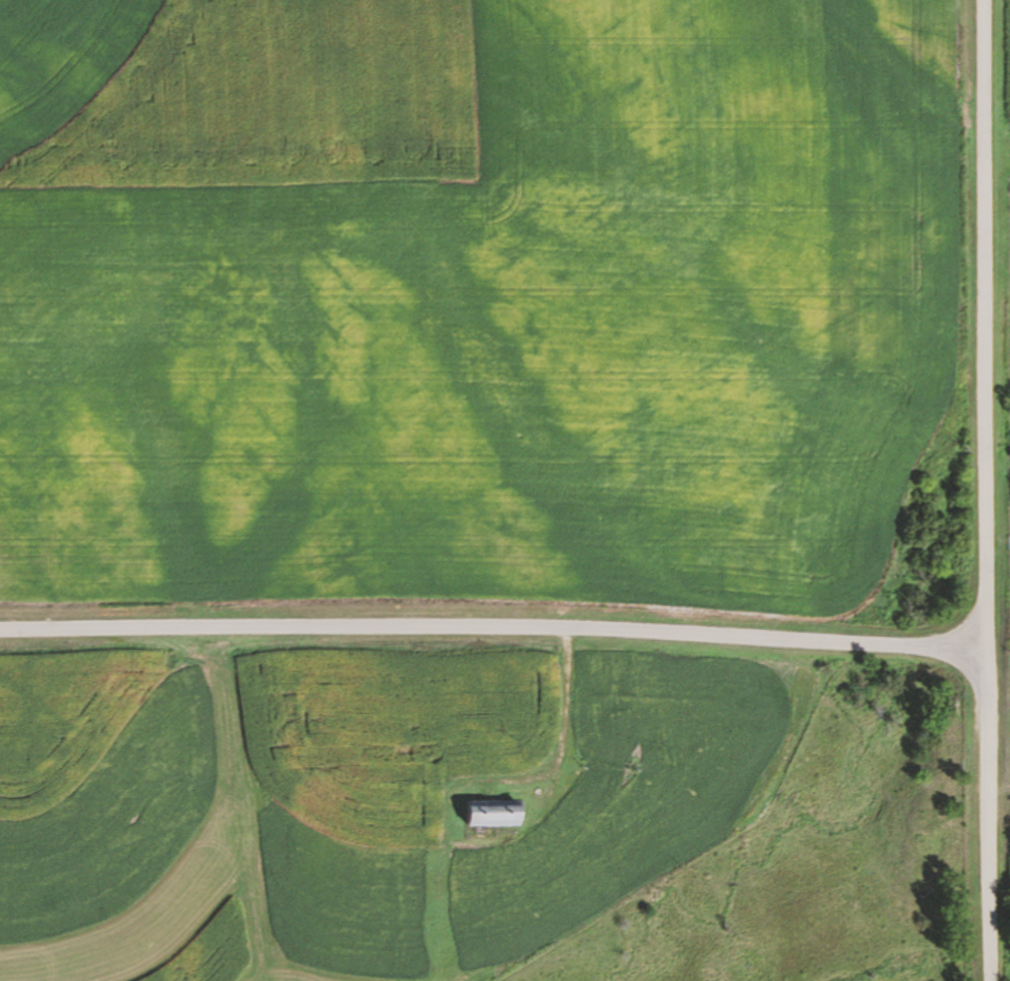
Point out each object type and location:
road: (988, 490)
road: (494, 629)
building: (496, 813)

